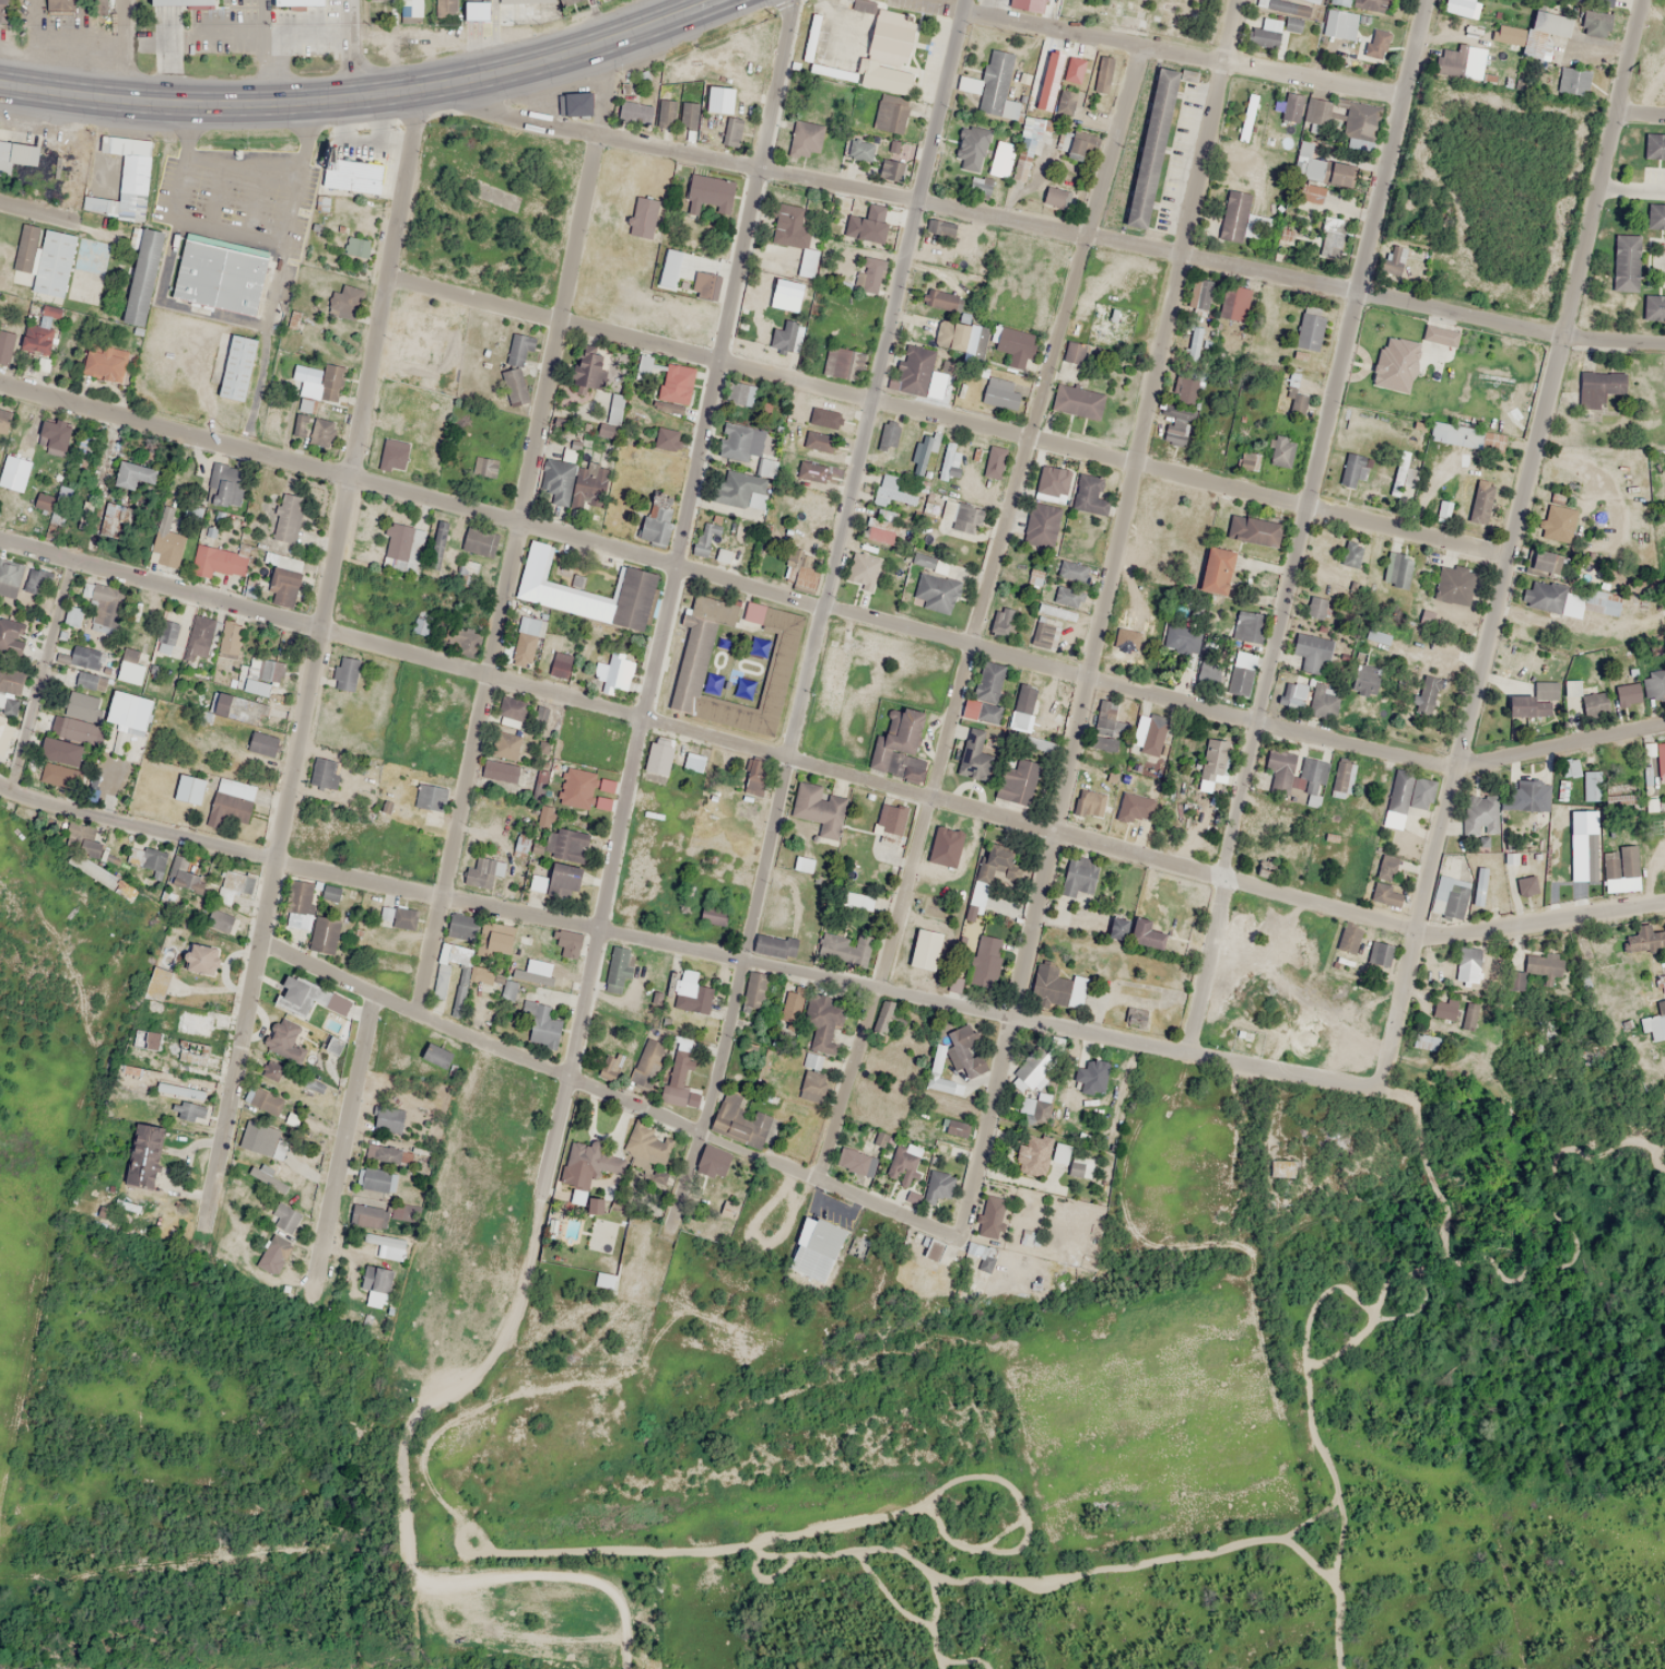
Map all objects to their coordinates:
building: (519, 0)
building: (1045, 0)
building: (1315, 0)
building: (292, 1)
building: (1341, 1)
building: (183, 2)
building: (1024, 3)
building: (863, 5)
building: (469, 7)
building: (1603, 7)
building: (445, 10)
building: (3, 11)
park: (1149, 15)
building: (1340, 24)
building: (1265, 33)
building: (1544, 35)
building: (892, 36)
building: (1375, 44)
road: (351, 48)
road: (124, 50)
road: (1182, 54)
building: (1074, 70)
building: (1102, 75)
building: (884, 78)
building: (989, 83)
road: (363, 95)
building: (816, 98)
building: (1066, 102)
building: (574, 104)
building: (1291, 106)
building: (634, 111)
building: (667, 113)
building: (890, 113)
building: (688, 115)
road: (1640, 116)
building: (1246, 117)
building: (1360, 127)
road: (589, 131)
building: (732, 131)
building: (1650, 140)
building: (1142, 142)
building: (1077, 144)
building: (971, 148)
building: (861, 150)
building: (896, 150)
building: (16, 155)
building: (1306, 162)
building: (891, 169)
building: (347, 172)
building: (125, 179)
road: (837, 184)
building: (974, 187)
road: (1631, 191)
building: (1312, 192)
building: (1056, 198)
building: (1230, 211)
building: (1655, 216)
building: (872, 222)
building: (940, 227)
building: (798, 237)
building: (1329, 244)
building: (49, 260)
building: (1393, 262)
building: (1623, 262)
road: (1240, 265)
building: (214, 275)
building: (142, 278)
building: (869, 280)
building: (704, 284)
building: (940, 299)
building: (344, 301)
building: (1238, 303)
building: (1649, 303)
building: (1110, 326)
building: (1310, 326)
building: (951, 336)
building: (786, 337)
building: (38, 339)
road: (1613, 341)
building: (1194, 344)
building: (5, 345)
building: (1013, 346)
building: (517, 349)
building: (1072, 352)
building: (104, 362)
building: (231, 363)
building: (841, 363)
building: (1395, 364)
building: (914, 369)
building: (647, 375)
building: (330, 383)
building: (676, 384)
building: (514, 386)
building: (1598, 387)
building: (999, 392)
building: (743, 395)
building: (1182, 407)
building: (614, 409)
road: (948, 415)
building: (3, 421)
building: (821, 431)
building: (320, 433)
building: (890, 433)
building: (54, 435)
building: (660, 438)
building: (740, 442)
building: (1279, 450)
building: (394, 454)
building: (921, 455)
building: (949, 457)
building: (993, 462)
building: (20, 465)
building: (765, 467)
building: (1350, 470)
building: (813, 471)
building: (1398, 473)
building: (133, 474)
building: (1053, 481)
building: (1662, 482)
building: (574, 484)
building: (225, 485)
building: (1088, 491)
building: (891, 492)
building: (755, 499)
building: (44, 501)
building: (1480, 503)
building: (1443, 509)
road: (344, 513)
building: (194, 514)
building: (656, 517)
building: (286, 518)
building: (109, 519)
building: (883, 522)
building: (1557, 524)
road: (1303, 525)
road: (518, 528)
building: (1253, 530)
building: (168, 537)
road: (682, 537)
building: (704, 539)
building: (403, 543)
road: (1511, 543)
building: (436, 545)
building: (1351, 553)
building: (218, 561)
building: (1545, 562)
road: (834, 566)
building: (469, 567)
building: (1397, 569)
building: (863, 571)
building: (1216, 571)
building: (1072, 572)
building: (9, 577)
building: (285, 579)
building: (1453, 585)
building: (936, 592)
building: (1540, 595)
building: (632, 598)
building: (1062, 603)
building: (1316, 607)
building: (105, 609)
road: (828, 609)
road: (978, 611)
building: (753, 612)
building: (72, 618)
road: (1101, 619)
building: (1002, 622)
building: (1244, 625)
building: (202, 632)
building: (1045, 634)
building: (1376, 635)
building: (11, 636)
building: (166, 636)
building: (1180, 637)
building: (524, 648)
building: (693, 651)
building: (1311, 651)
building: (1209, 665)
building: (130, 667)
building: (345, 673)
building: (615, 673)
building: (262, 674)
building: (1655, 675)
road: (44, 678)
building: (1364, 679)
building: (1238, 680)
building: (1571, 686)
building: (985, 694)
building: (1426, 694)
building: (1627, 694)
building: (1295, 696)
building: (1535, 701)
building: (1592, 703)
building: (235, 707)
building: (1022, 707)
building: (129, 712)
building: (1104, 717)
building: (75, 719)
building: (1154, 730)
building: (4, 731)
building: (895, 738)
building: (262, 743)
building: (1039, 745)
building: (976, 753)
building: (658, 756)
building: (1661, 759)
building: (1215, 760)
building: (693, 762)
road: (829, 771)
building: (325, 774)
building: (1295, 774)
building: (1566, 777)
building: (1340, 780)
building: (752, 781)
building: (1018, 781)
building: (1592, 785)
building: (189, 788)
building: (1407, 791)
building: (1528, 795)
building: (430, 797)
building: (232, 799)
building: (1089, 802)
building: (819, 808)
building: (1480, 814)
building: (891, 818)
building: (82, 841)
building: (568, 845)
building: (484, 872)
building: (1365, 877)
building: (1079, 878)
building: (564, 881)
building: (1391, 882)
building: (1478, 885)
building: (1526, 885)
building: (330, 892)
building: (1449, 896)
building: (687, 898)
building: (300, 905)
building: (713, 915)
building: (385, 916)
building: (222, 918)
building: (462, 926)
building: (1117, 928)
building: (1145, 933)
building: (325, 935)
building: (1349, 938)
building: (1650, 938)
building: (494, 940)
building: (774, 947)
building: (925, 949)
road: (689, 950)
building: (1379, 953)
building: (1467, 957)
building: (201, 960)
building: (985, 960)
building: (617, 967)
building: (441, 971)
building: (479, 974)
building: (1057, 987)
building: (156, 988)
building: (507, 989)
building: (691, 990)
building: (753, 991)
building: (297, 995)
building: (790, 1004)
building: (1443, 1008)
road: (412, 1010)
building: (1469, 1015)
building: (882, 1016)
building: (1654, 1022)
building: (541, 1024)
building: (152, 1042)
building: (284, 1042)
building: (1427, 1043)
building: (818, 1044)
building: (329, 1048)
building: (960, 1050)
building: (192, 1053)
building: (435, 1056)
building: (936, 1058)
building: (646, 1062)
building: (270, 1070)
building: (1031, 1073)
building: (678, 1074)
road: (235, 1079)
building: (179, 1091)
building: (191, 1110)
building: (740, 1116)
building: (387, 1119)
road: (343, 1141)
building: (280, 1149)
building: (1059, 1153)
building: (144, 1155)
building: (1031, 1155)
road: (764, 1156)
building: (855, 1161)
building: (712, 1162)
building: (1075, 1170)
building: (266, 1179)
building: (374, 1180)
building: (937, 1187)
building: (594, 1206)
building: (366, 1217)
building: (285, 1218)
building: (598, 1235)
building: (820, 1237)
building: (382, 1239)
building: (933, 1250)
building: (975, 1250)
building: (272, 1253)
building: (376, 1279)
building: (605, 1280)
road: (496, 1347)

